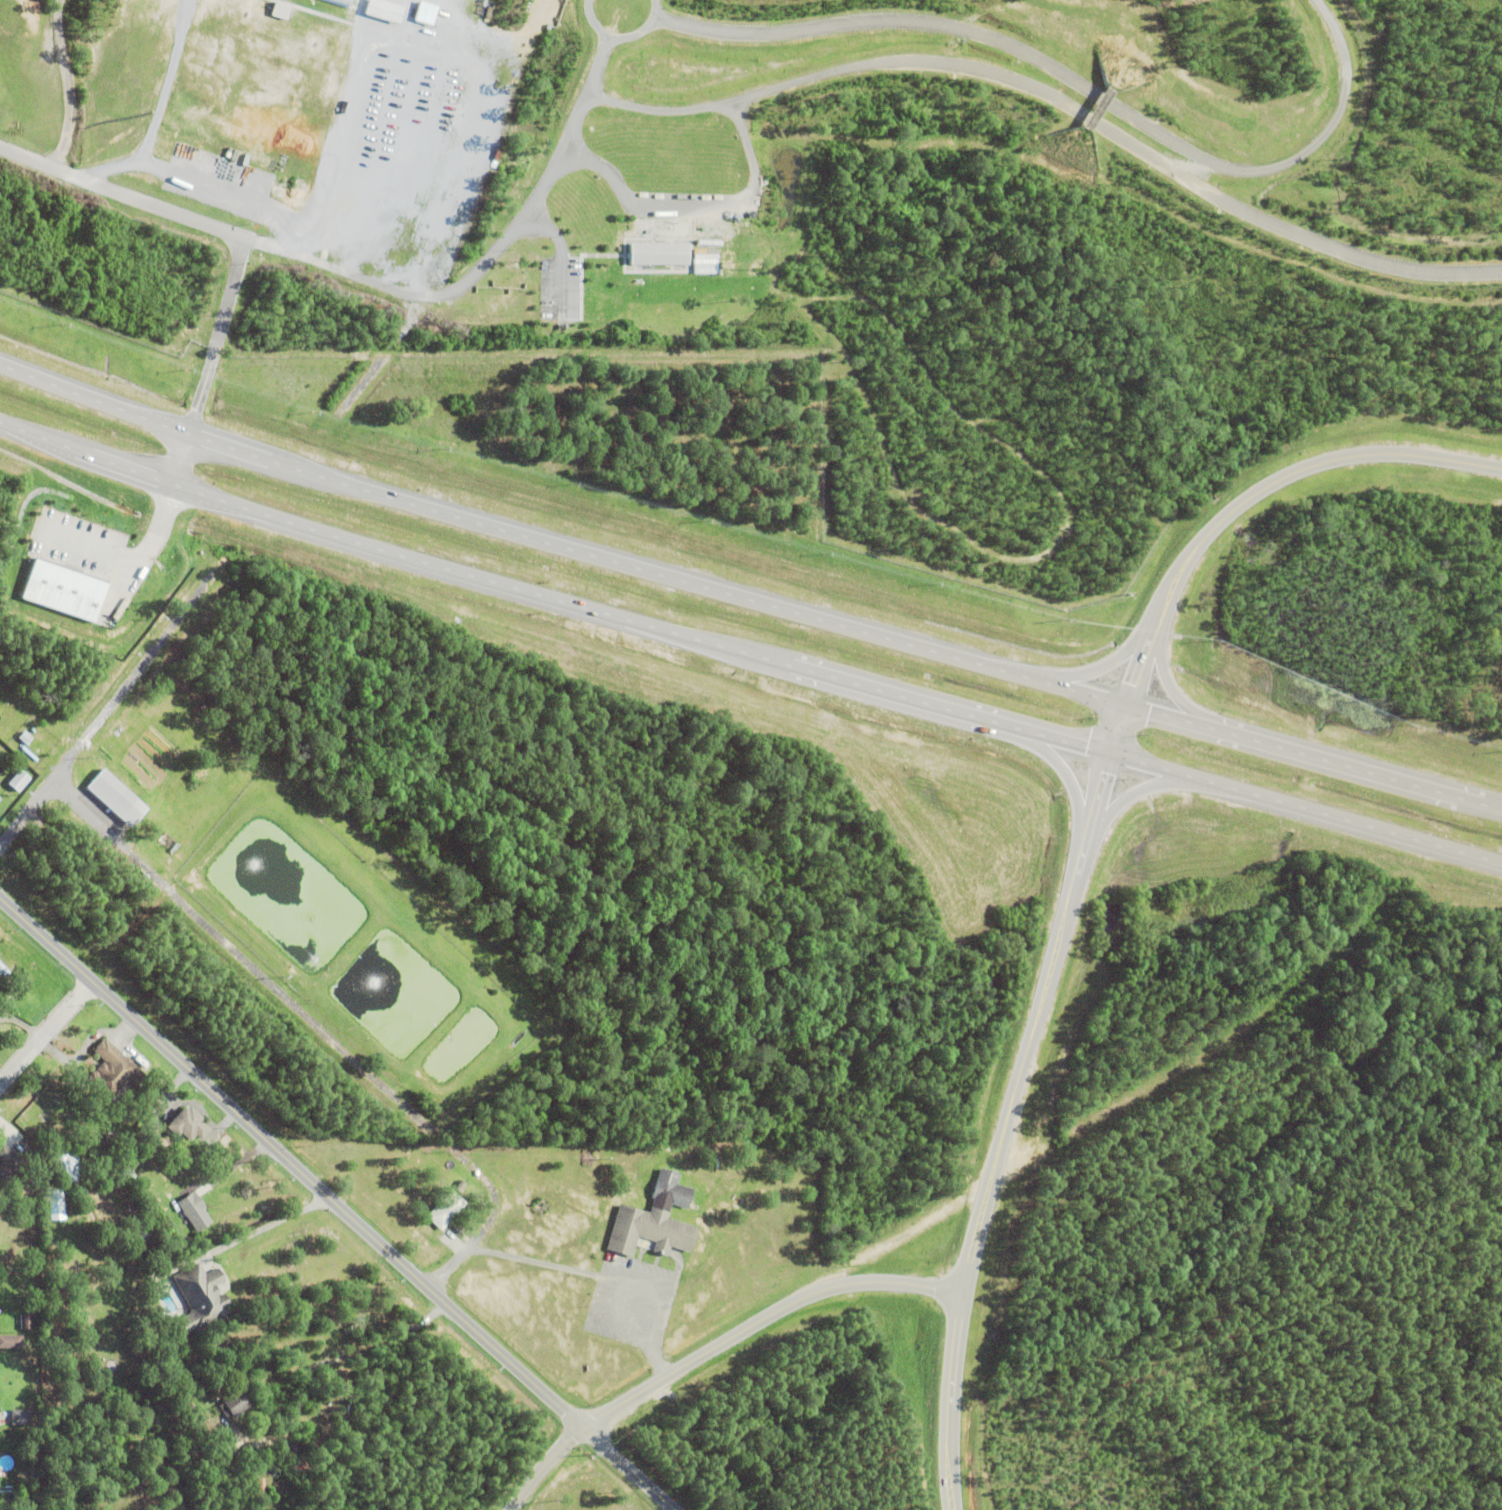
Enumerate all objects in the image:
building: (343, 2)
building: (284, 9)
building: (389, 10)
building: (429, 12)
building: (452, 202)
road: (216, 227)
building: (661, 253)
road: (1254, 490)
road: (148, 536)
road: (555, 546)
building: (69, 589)
road: (549, 598)
road: (1100, 665)
traffic signals: (1127, 682)
road: (1167, 683)
traffic signals: (1148, 710)
road: (1112, 727)
building: (25, 738)
traffic signals: (1085, 747)
building: (29, 754)
road: (1310, 756)
road: (1058, 765)
traffic signals: (1100, 771)
building: (20, 781)
road: (1128, 795)
building: (0, 799)
building: (116, 799)
road: (33, 807)
road: (1303, 808)
building: (0, 974)
road: (43, 1027)
road: (315, 1028)
building: (113, 1072)
building: (187, 1127)
road: (1000, 1127)
building: (154, 1129)
building: (72, 1165)
building: (10, 1168)
building: (129, 1175)
building: (672, 1190)
building: (58, 1203)
road: (335, 1205)
building: (441, 1209)
building: (194, 1212)
building: (648, 1233)
road: (609, 1266)
building: (203, 1295)
road: (597, 1317)
road: (757, 1319)
building: (26, 1323)
building: (10, 1344)
building: (233, 1405)
building: (20, 1419)
road: (538, 1465)
building: (300, 1469)
building: (30, 1494)

